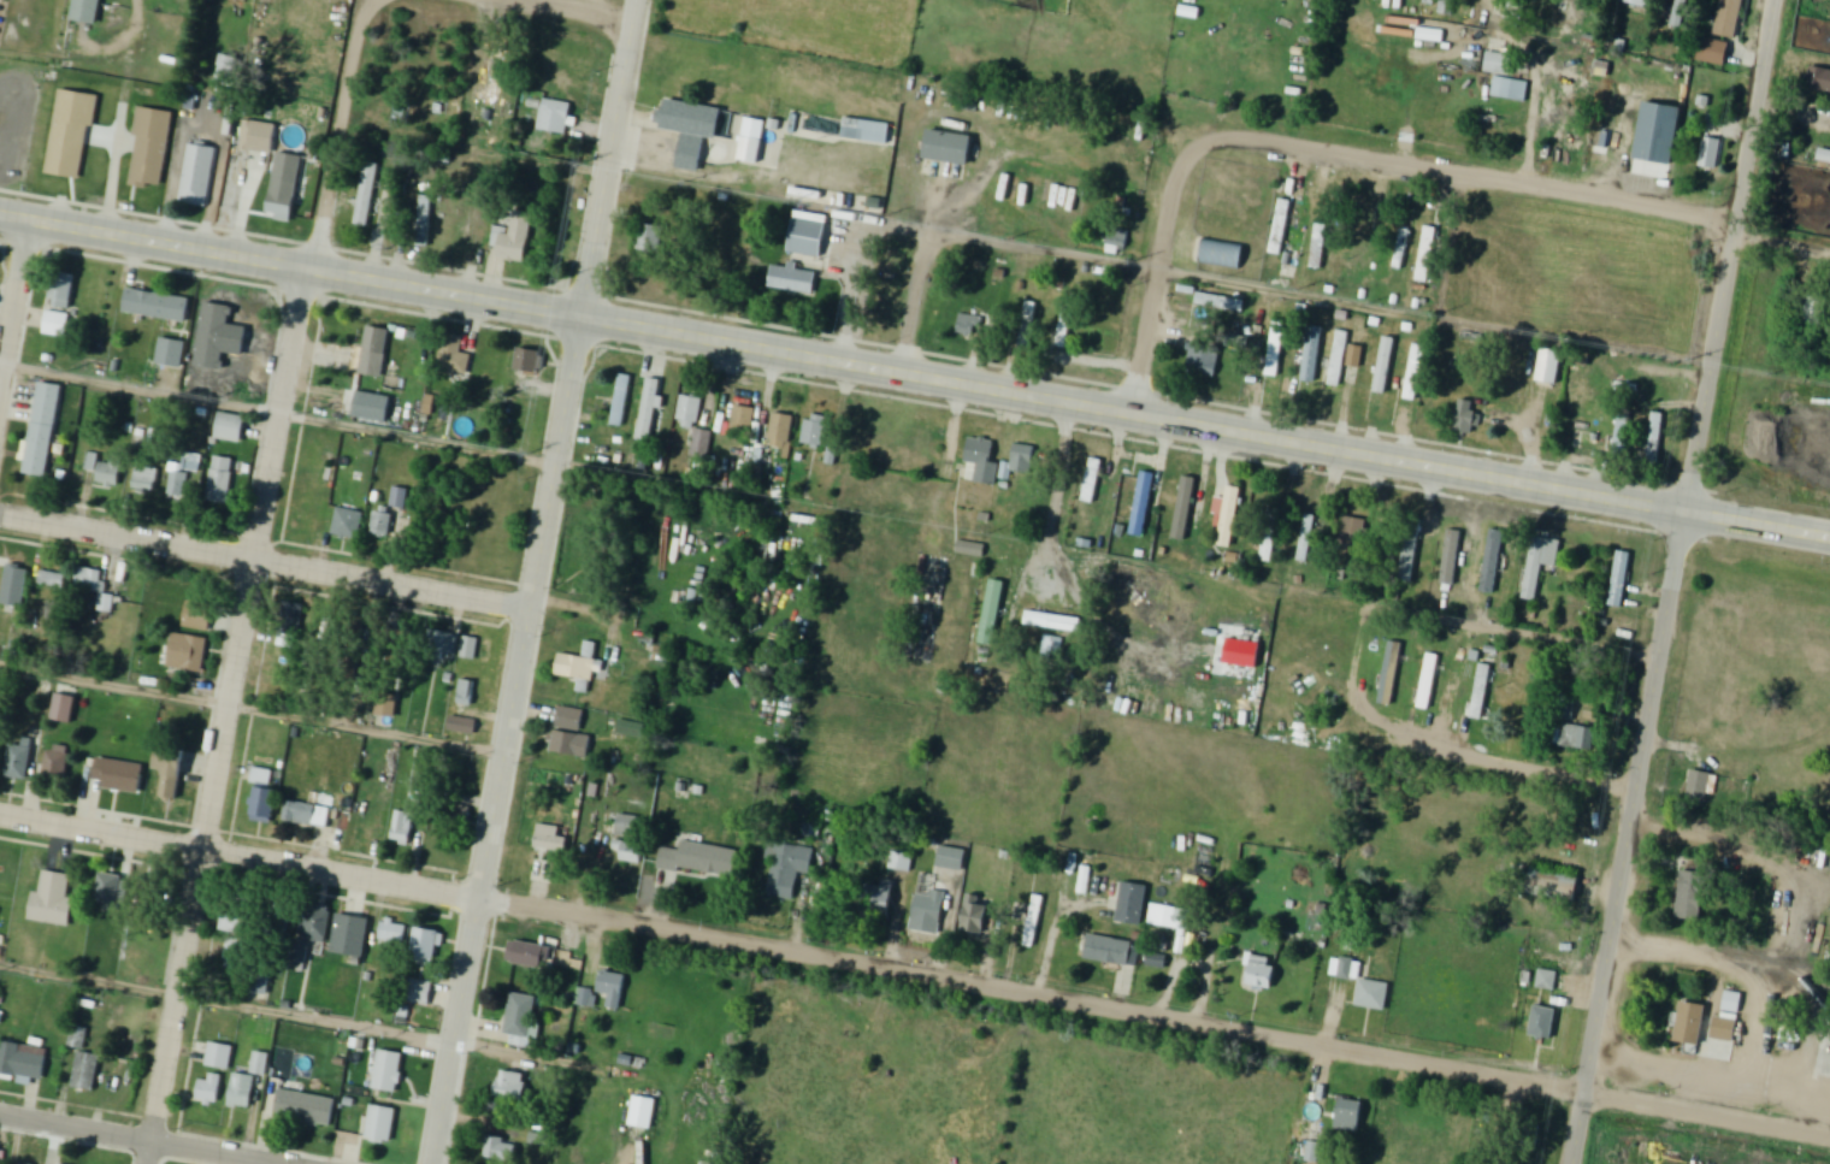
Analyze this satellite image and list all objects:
building: (1637, 4)
road: (368, 6)
road: (568, 10)
building: (87, 11)
building: (1728, 18)
building: (1430, 36)
building: (1713, 52)
building: (226, 71)
building: (492, 78)
building: (1819, 81)
building: (1511, 90)
building: (555, 118)
building: (1602, 129)
building: (692, 131)
building: (248, 138)
building: (751, 143)
building: (150, 149)
building: (949, 149)
building: (1710, 154)
building: (90, 160)
road: (703, 167)
road: (1470, 176)
building: (199, 177)
building: (367, 196)
building: (282, 200)
building: (555, 218)
building: (478, 220)
building: (425, 223)
building: (1280, 229)
building: (516, 240)
building: (805, 240)
building: (651, 241)
building: (1117, 243)
building: (1318, 248)
building: (1365, 248)
road: (1044, 250)
building: (1403, 250)
building: (1427, 255)
building: (1221, 256)
road: (860, 261)
road: (1155, 272)
building: (793, 280)
road: (12, 293)
building: (61, 293)
road: (921, 302)
building: (157, 306)
building: (1814, 312)
building: (1067, 324)
building: (55, 325)
building: (972, 326)
building: (1028, 329)
building: (1276, 350)
building: (170, 354)
building: (1312, 356)
building: (242, 358)
building: (454, 358)
building: (1357, 359)
building: (1339, 360)
building: (1203, 362)
building: (530, 364)
building: (1549, 366)
road: (915, 374)
building: (1415, 374)
building: (1629, 389)
building: (390, 392)
building: (621, 403)
building: (648, 412)
road: (278, 414)
building: (1468, 419)
building: (743, 423)
building: (693, 427)
building: (230, 429)
building: (781, 433)
building: (815, 433)
building: (1622, 435)
building: (41, 439)
building: (1655, 441)
building: (981, 465)
building: (1022, 465)
building: (111, 474)
building: (1092, 475)
building: (182, 477)
building: (220, 481)
building: (144, 484)
building: (399, 498)
building: (1183, 501)
building: (1143, 506)
building: (1228, 519)
building: (348, 524)
building: (383, 524)
building: (1270, 536)
building: (1306, 539)
building: (1352, 544)
building: (972, 551)
building: (1411, 554)
building: (1451, 560)
road: (265, 561)
building: (1492, 563)
building: (1540, 566)
road: (536, 581)
building: (1621, 581)
road: (1673, 581)
building: (94, 585)
building: (16, 586)
road: (246, 587)
building: (197, 615)
building: (1053, 616)
building: (289, 626)
road: (1537, 634)
building: (470, 649)
building: (439, 650)
building: (188, 654)
building: (582, 666)
building: (1391, 673)
building: (1429, 681)
building: (466, 695)
building: (1486, 695)
building: (388, 703)
building: (63, 708)
road: (252, 709)
building: (462, 727)
building: (1572, 728)
building: (630, 729)
building: (569, 737)
building: (17, 762)
building: (57, 762)
building: (172, 769)
building: (118, 775)
building: (1701, 786)
building: (265, 804)
building: (307, 815)
building: (459, 816)
building: (627, 826)
building: (402, 828)
building: (545, 851)
building: (628, 852)
building: (950, 857)
building: (701, 859)
building: (787, 869)
building: (110, 888)
building: (1692, 896)
building: (879, 898)
building: (52, 900)
building: (1131, 903)
building: (929, 908)
building: (975, 916)
building: (1033, 917)
building: (1165, 917)
building: (236, 924)
building: (282, 924)
building: (312, 933)
building: (392, 934)
building: (349, 936)
building: (426, 946)
building: (1112, 951)
building: (236, 955)
building: (532, 956)
road: (915, 971)
building: (1262, 974)
building: (1547, 981)
building: (1362, 985)
building: (613, 989)
building: (420, 993)
road: (226, 1004)
building: (520, 1020)
building: (1729, 1020)
building: (1543, 1023)
building: (1693, 1023)
building: (219, 1057)
building: (23, 1060)
building: (388, 1071)
building: (85, 1073)
building: (512, 1086)
building: (209, 1089)
building: (242, 1092)
building: (305, 1107)
building: (642, 1112)
building: (1351, 1115)
building: (380, 1124)
road: (138, 1140)
building: (1525, 1140)
building: (498, 1148)
building: (1312, 1151)
road: (632, 1157)

